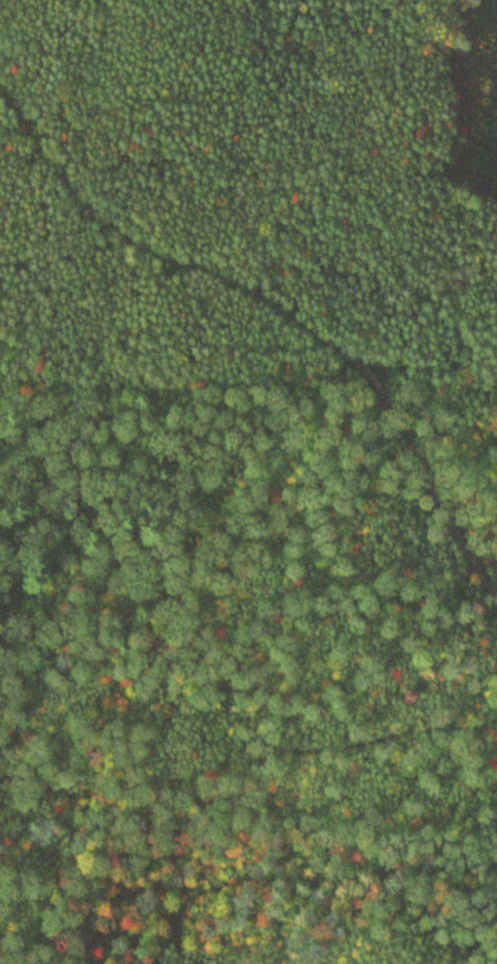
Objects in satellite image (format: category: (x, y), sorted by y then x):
road: (267, 309)

